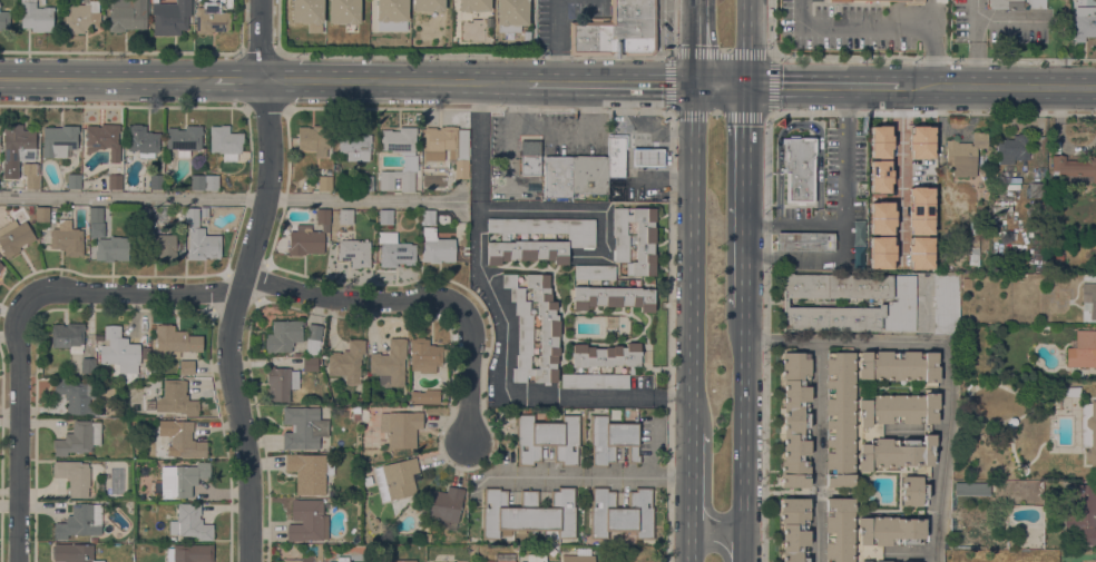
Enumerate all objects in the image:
building: (839, 0)
building: (912, 1)
building: (1017, 3)
building: (429, 4)
building: (473, 4)
building: (391, 10)
building: (344, 11)
building: (511, 12)
building: (307, 13)
building: (127, 14)
building: (36, 16)
building: (170, 17)
building: (81, 18)
building: (212, 18)
building: (4, 20)
road: (1010, 20)
building: (1084, 22)
road: (885, 24)
building: (617, 30)
building: (526, 34)
road: (260, 39)
road: (558, 40)
road: (694, 41)
road: (747, 41)
road: (975, 42)
road: (107, 78)
road: (236, 79)
road: (393, 80)
road: (610, 81)
traffic signals: (694, 82)
road: (721, 82)
traffic signals: (747, 83)
road: (823, 85)
road: (998, 87)
road: (125, 106)
road: (554, 126)
road: (800, 126)
building: (880, 135)
building: (921, 135)
building: (314, 138)
building: (104, 139)
building: (184, 139)
building: (447, 139)
building: (58, 140)
building: (141, 140)
building: (225, 141)
building: (353, 144)
building: (16, 148)
building: (1011, 148)
building: (880, 149)
building: (921, 150)
building: (965, 154)
building: (616, 156)
building: (530, 157)
building: (647, 157)
building: (410, 160)
road: (629, 164)
building: (461, 168)
building: (1074, 168)
building: (880, 169)
building: (800, 171)
road: (847, 171)
building: (30, 175)
road: (900, 175)
building: (588, 176)
road: (770, 177)
building: (556, 178)
building: (74, 180)
building: (115, 181)
building: (156, 181)
building: (197, 181)
building: (211, 181)
building: (323, 183)
building: (365, 183)
building: (880, 184)
building: (1037, 189)
road: (746, 194)
building: (921, 196)
road: (229, 197)
building: (881, 210)
building: (921, 210)
building: (204, 211)
building: (42, 214)
building: (96, 214)
building: (144, 214)
building: (345, 216)
building: (385, 216)
building: (428, 217)
building: (1048, 217)
road: (795, 225)
building: (881, 226)
building: (921, 226)
building: (97, 229)
building: (858, 233)
building: (309, 236)
building: (976, 236)
building: (14, 237)
building: (67, 238)
building: (199, 238)
building: (645, 238)
building: (555, 241)
building: (805, 241)
building: (163, 245)
building: (881, 245)
building: (921, 245)
building: (437, 247)
building: (111, 248)
building: (352, 249)
building: (395, 250)
road: (796, 257)
road: (692, 258)
building: (881, 260)
building: (920, 260)
building: (1, 265)
building: (595, 272)
building: (967, 282)
road: (135, 293)
building: (613, 297)
building: (1089, 297)
road: (351, 299)
building: (904, 302)
building: (946, 303)
road: (231, 319)
road: (502, 326)
building: (545, 327)
building: (520, 328)
building: (284, 335)
building: (68, 336)
building: (313, 338)
road: (844, 341)
building: (174, 342)
road: (948, 345)
building: (119, 349)
building: (1082, 349)
building: (297, 354)
building: (424, 355)
building: (606, 355)
building: (346, 362)
building: (310, 364)
building: (390, 364)
building: (87, 365)
building: (899, 365)
building: (186, 366)
road: (467, 374)
building: (594, 379)
building: (281, 383)
building: (1073, 391)
building: (77, 395)
building: (424, 396)
building: (176, 398)
building: (898, 408)
building: (356, 410)
road: (745, 410)
building: (355, 416)
building: (840, 418)
building: (795, 420)
road: (17, 427)
building: (303, 427)
building: (401, 427)
building: (1088, 431)
building: (78, 437)
building: (547, 438)
building: (611, 440)
building: (183, 441)
road: (818, 451)
road: (946, 456)
building: (902, 463)
road: (691, 464)
building: (310, 471)
building: (74, 475)
road: (585, 476)
building: (182, 479)
building: (397, 479)
building: (971, 487)
building: (441, 503)
building: (528, 511)
building: (622, 511)
road: (714, 513)
building: (1082, 513)
building: (307, 520)
building: (79, 521)
building: (190, 522)
road: (691, 528)
building: (794, 530)
building: (839, 530)
building: (888, 533)
building: (94, 538)
road: (743, 539)
road: (714, 546)
building: (72, 552)
building: (189, 553)
road: (910, 553)
building: (579, 555)
building: (309, 556)
building: (501, 558)
building: (536, 558)
building: (343, 559)
building: (1095, 560)
building: (336, 561)
building: (432, 561)
building: (909, 561)

